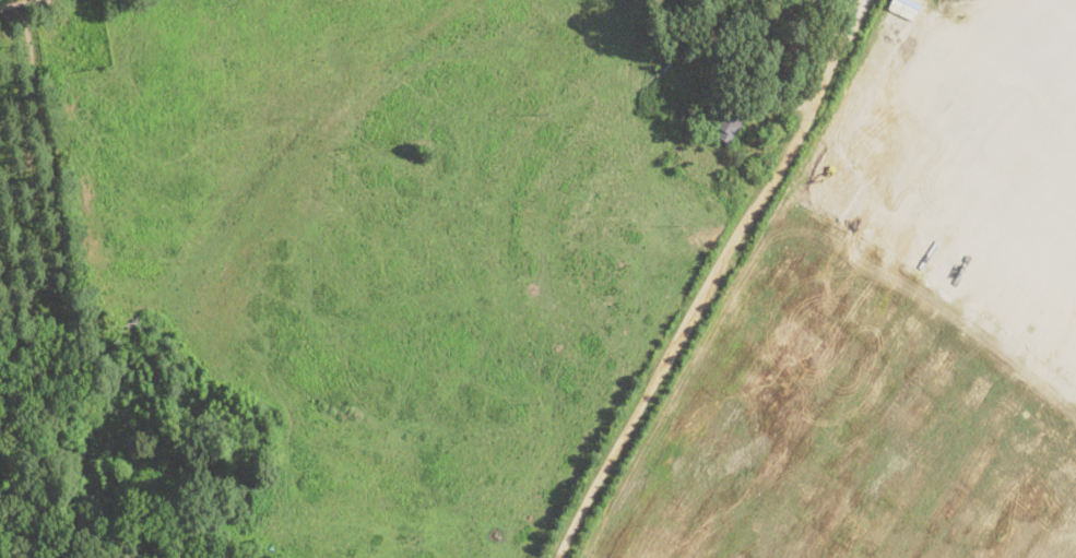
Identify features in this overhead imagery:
road: (20, 3)
park: (816, 12)
building: (745, 84)
building: (693, 116)
building: (730, 124)
building: (426, 155)
road: (760, 199)
road: (602, 476)

